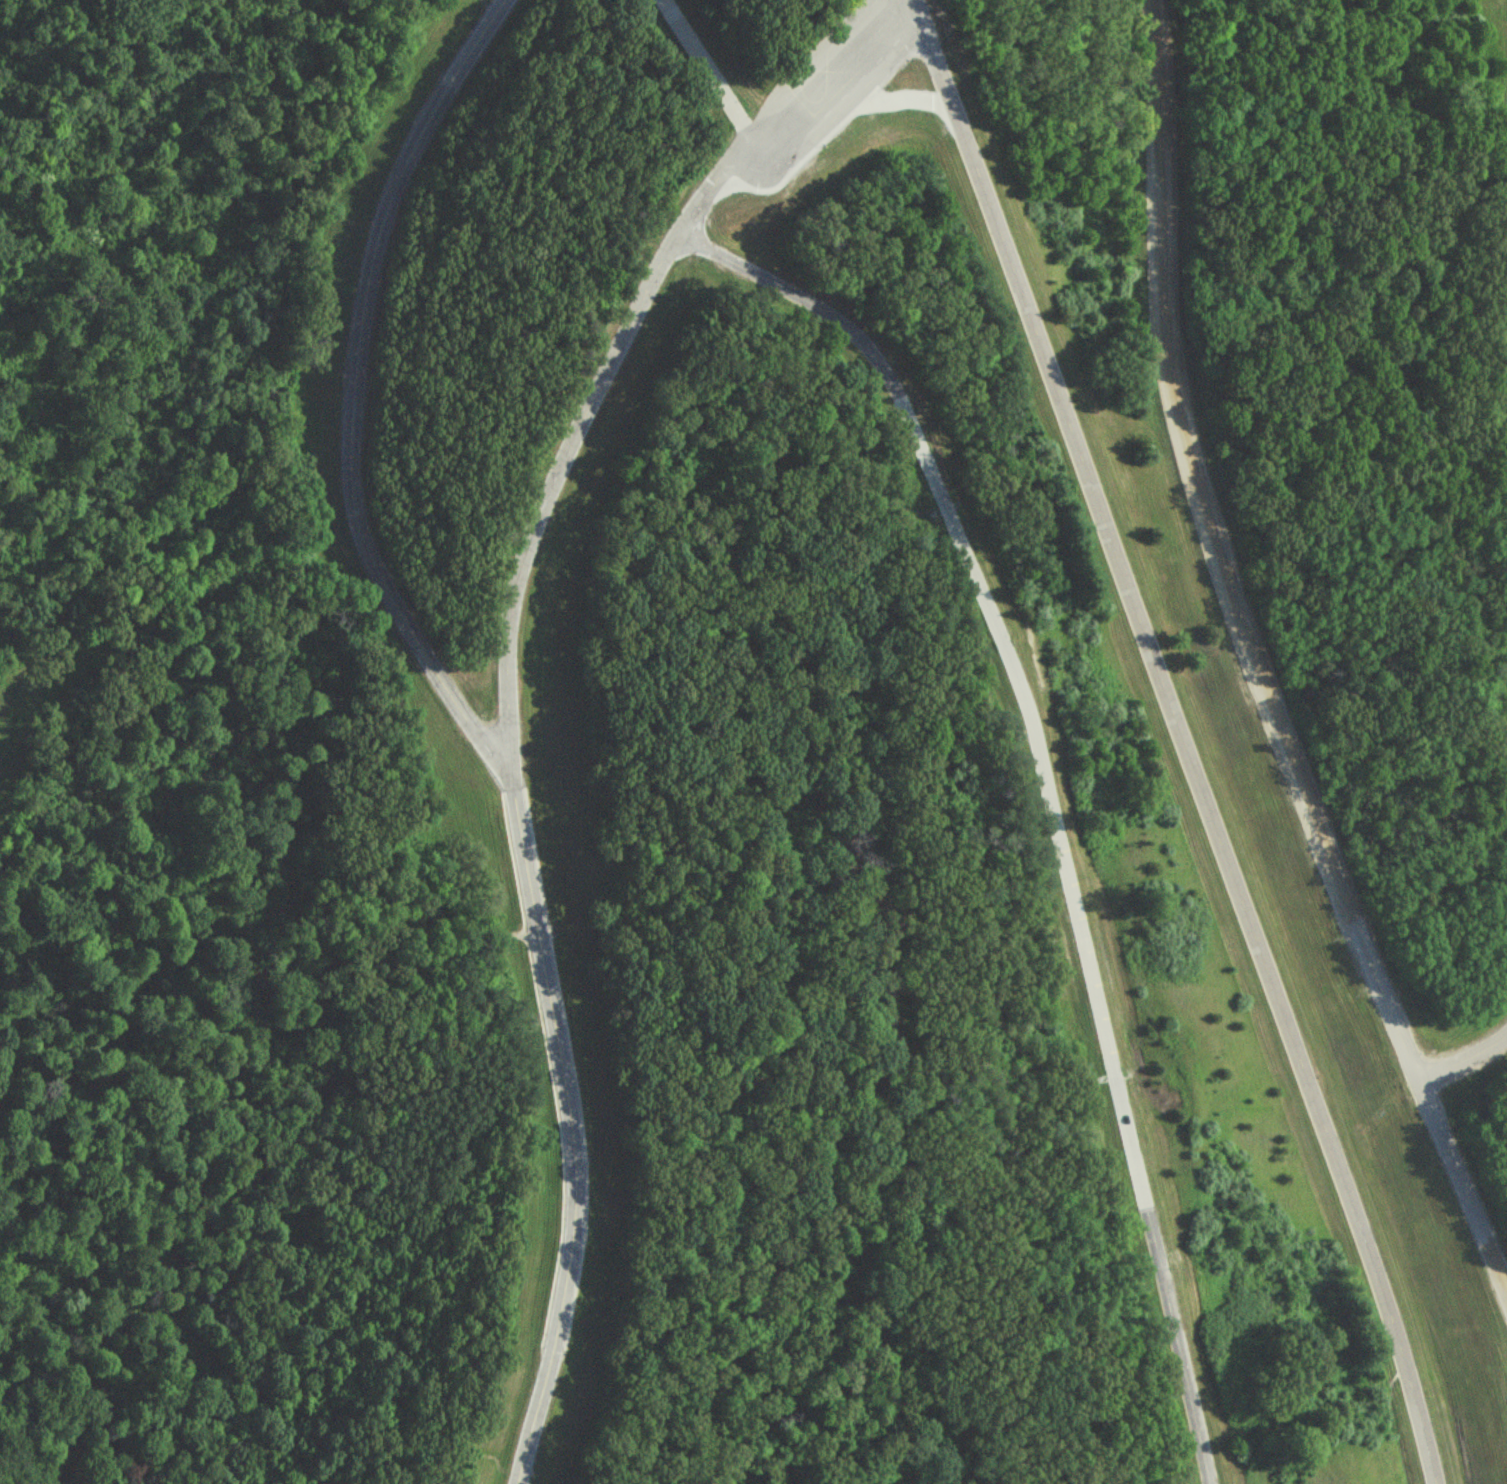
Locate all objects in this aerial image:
road: (710, 66)
road: (614, 357)
road: (1253, 662)
raceway: (469, 723)
raceway: (1181, 740)
road: (1050, 795)
road: (1464, 1049)

